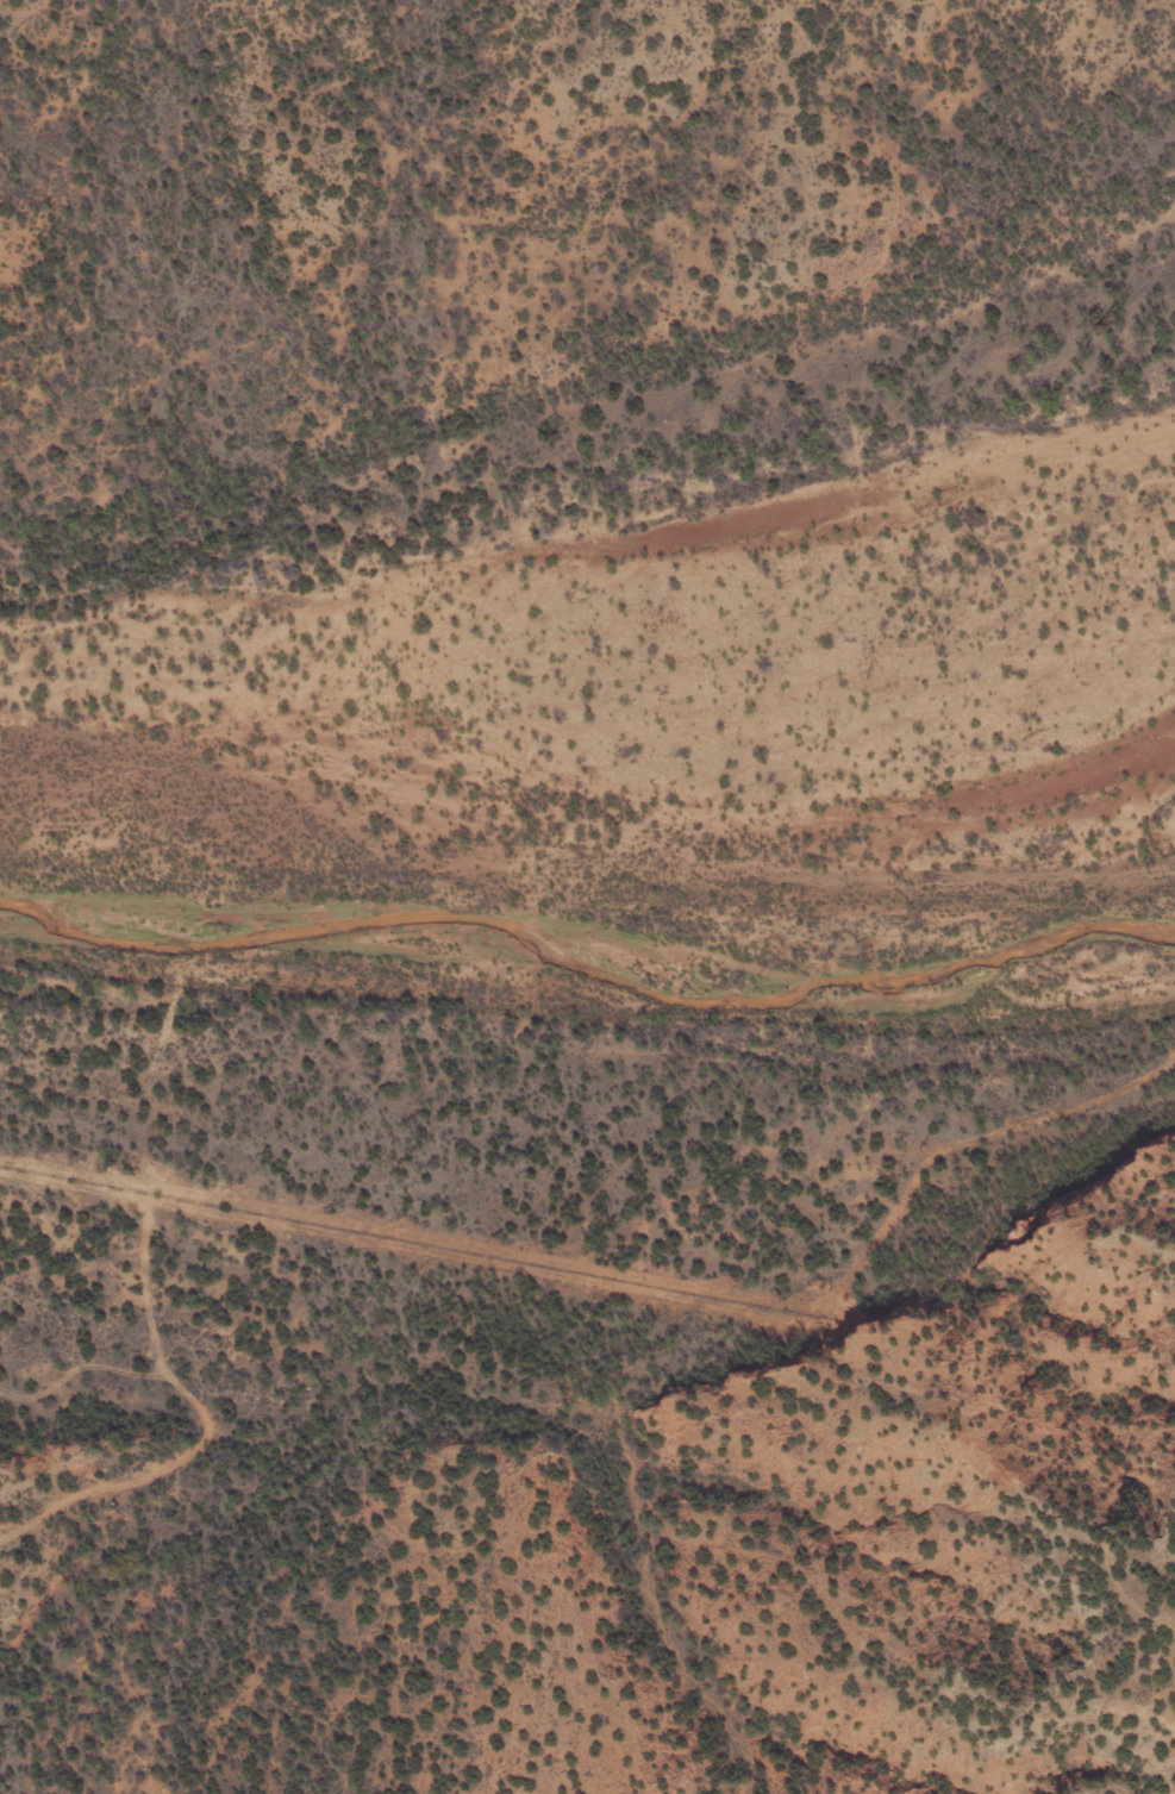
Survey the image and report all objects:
river: (586, 979)

